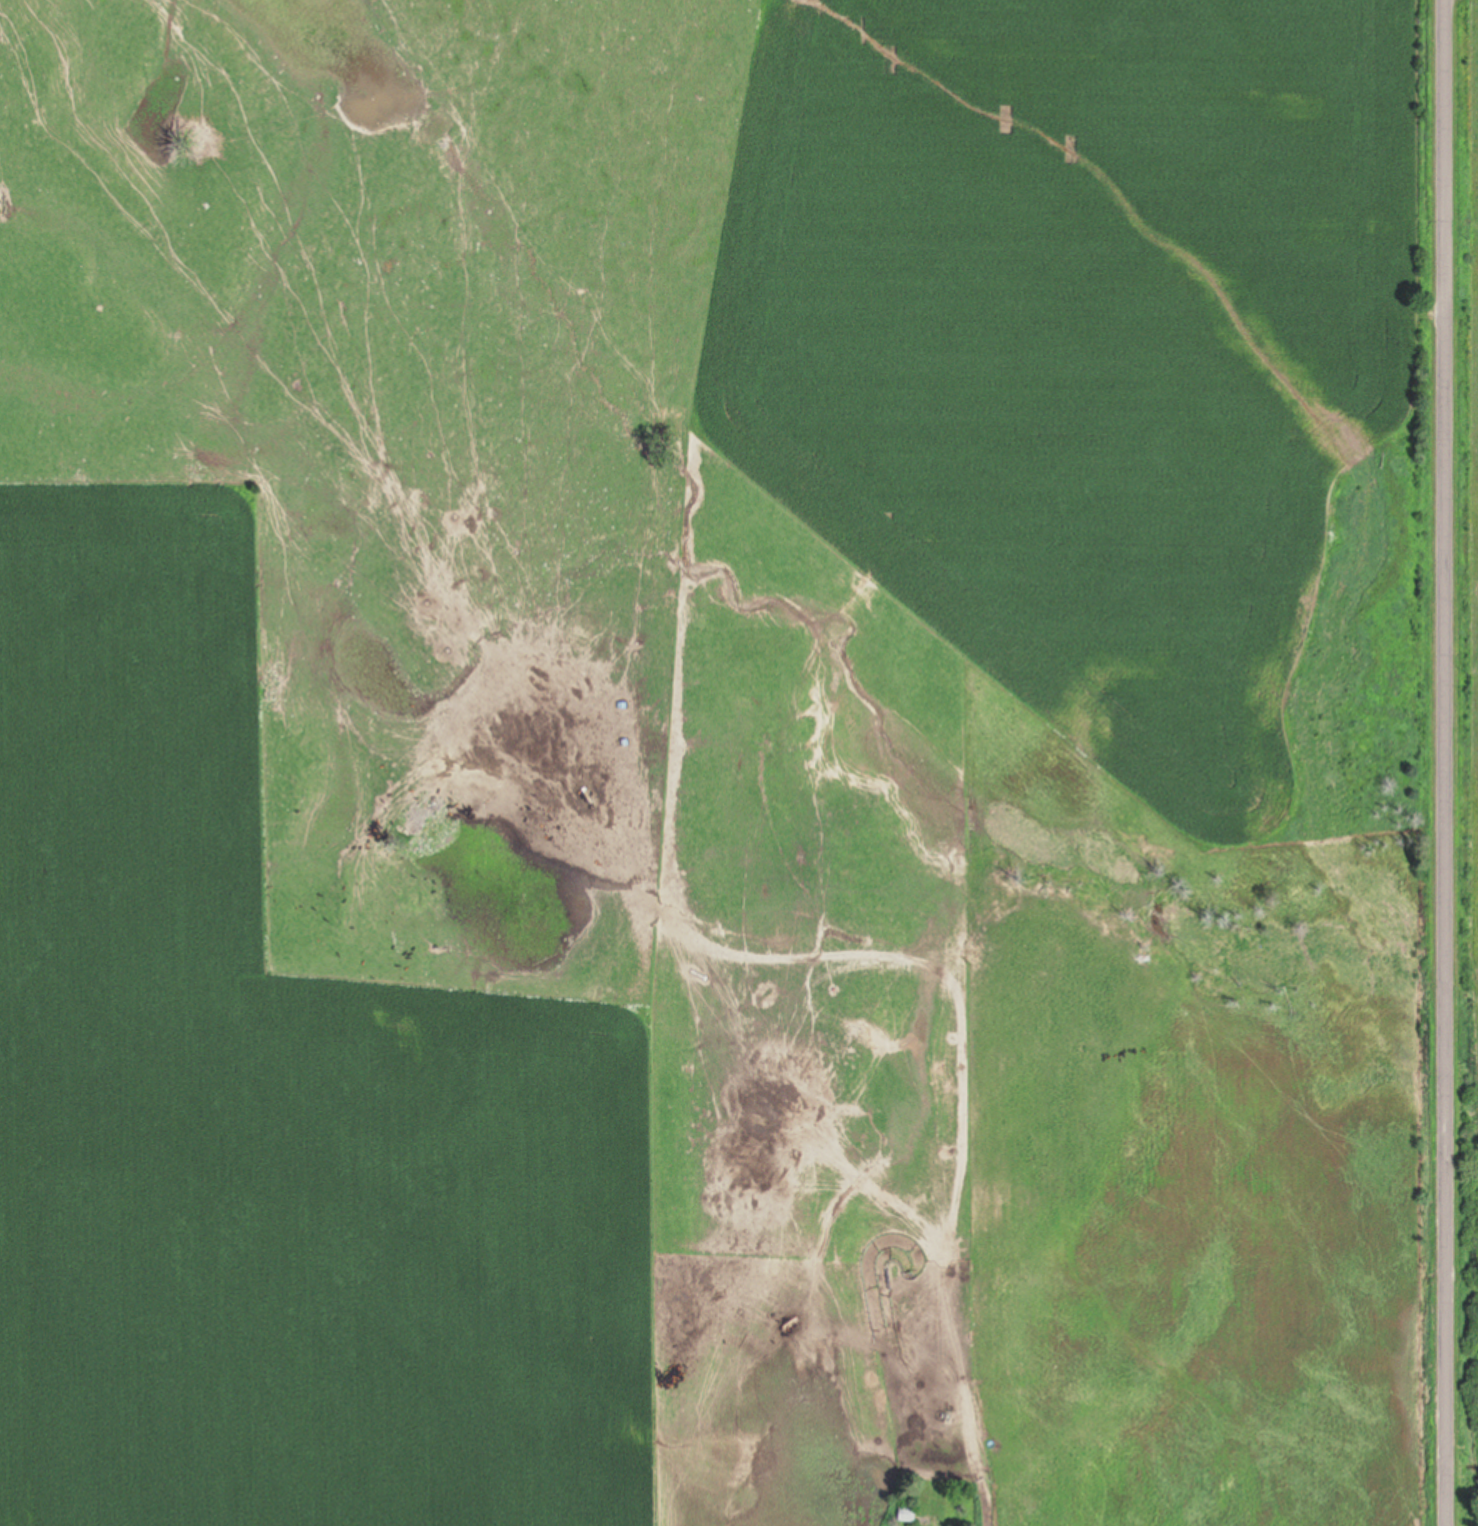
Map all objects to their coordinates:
road: (1447, 763)
building: (912, 1513)

